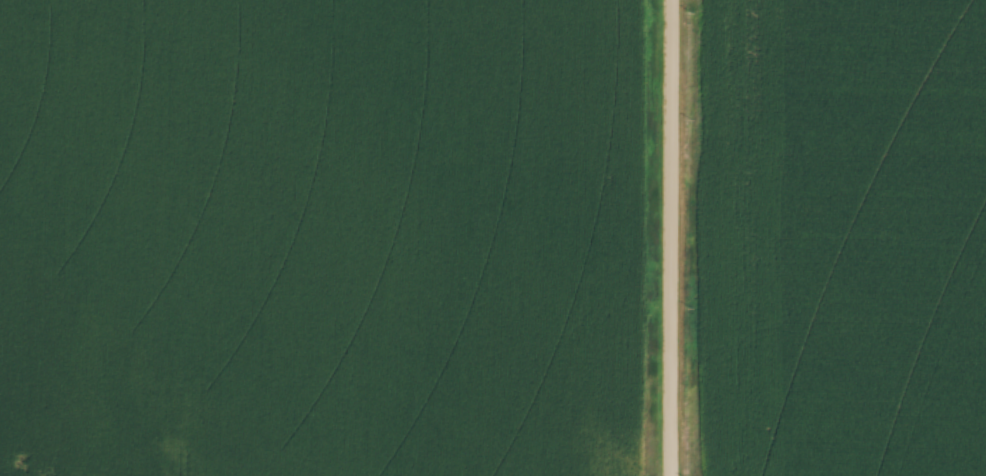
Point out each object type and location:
crop: (320, 237)
road: (670, 238)

